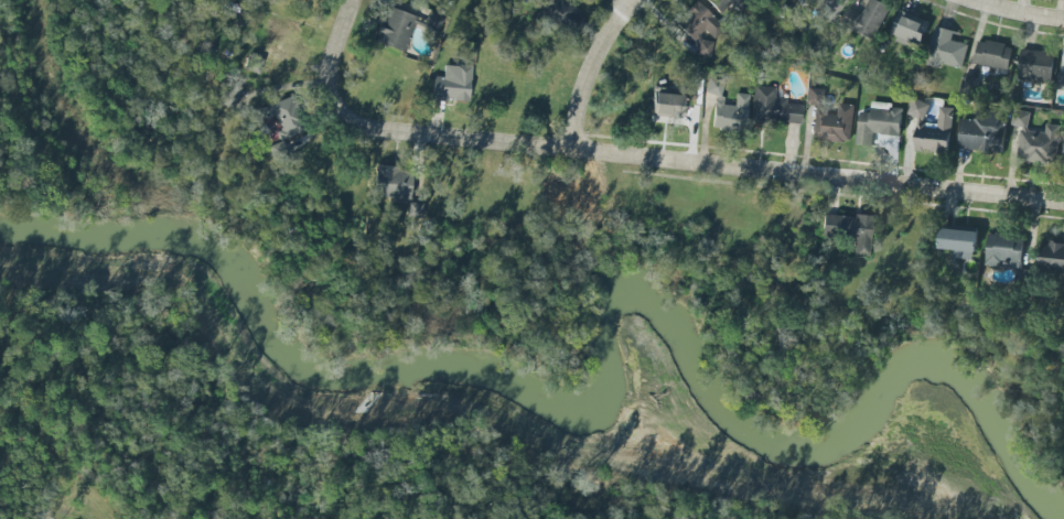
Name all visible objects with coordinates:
road: (617, 2)
building: (722, 3)
building: (826, 9)
road: (1018, 12)
building: (560, 14)
road: (343, 15)
building: (867, 18)
building: (431, 22)
building: (698, 26)
building: (909, 26)
building: (394, 29)
building: (945, 48)
building: (992, 54)
building: (252, 64)
building: (1035, 64)
road: (587, 71)
building: (1060, 82)
building: (451, 85)
building: (712, 86)
building: (666, 104)
building: (772, 107)
building: (728, 112)
building: (283, 116)
building: (830, 117)
building: (878, 121)
building: (933, 129)
building: (982, 132)
building: (1034, 140)
building: (1063, 149)
road: (665, 158)
building: (390, 182)
building: (568, 197)
building: (848, 229)
building: (958, 241)
building: (1006, 251)
building: (1052, 256)
river: (602, 357)

